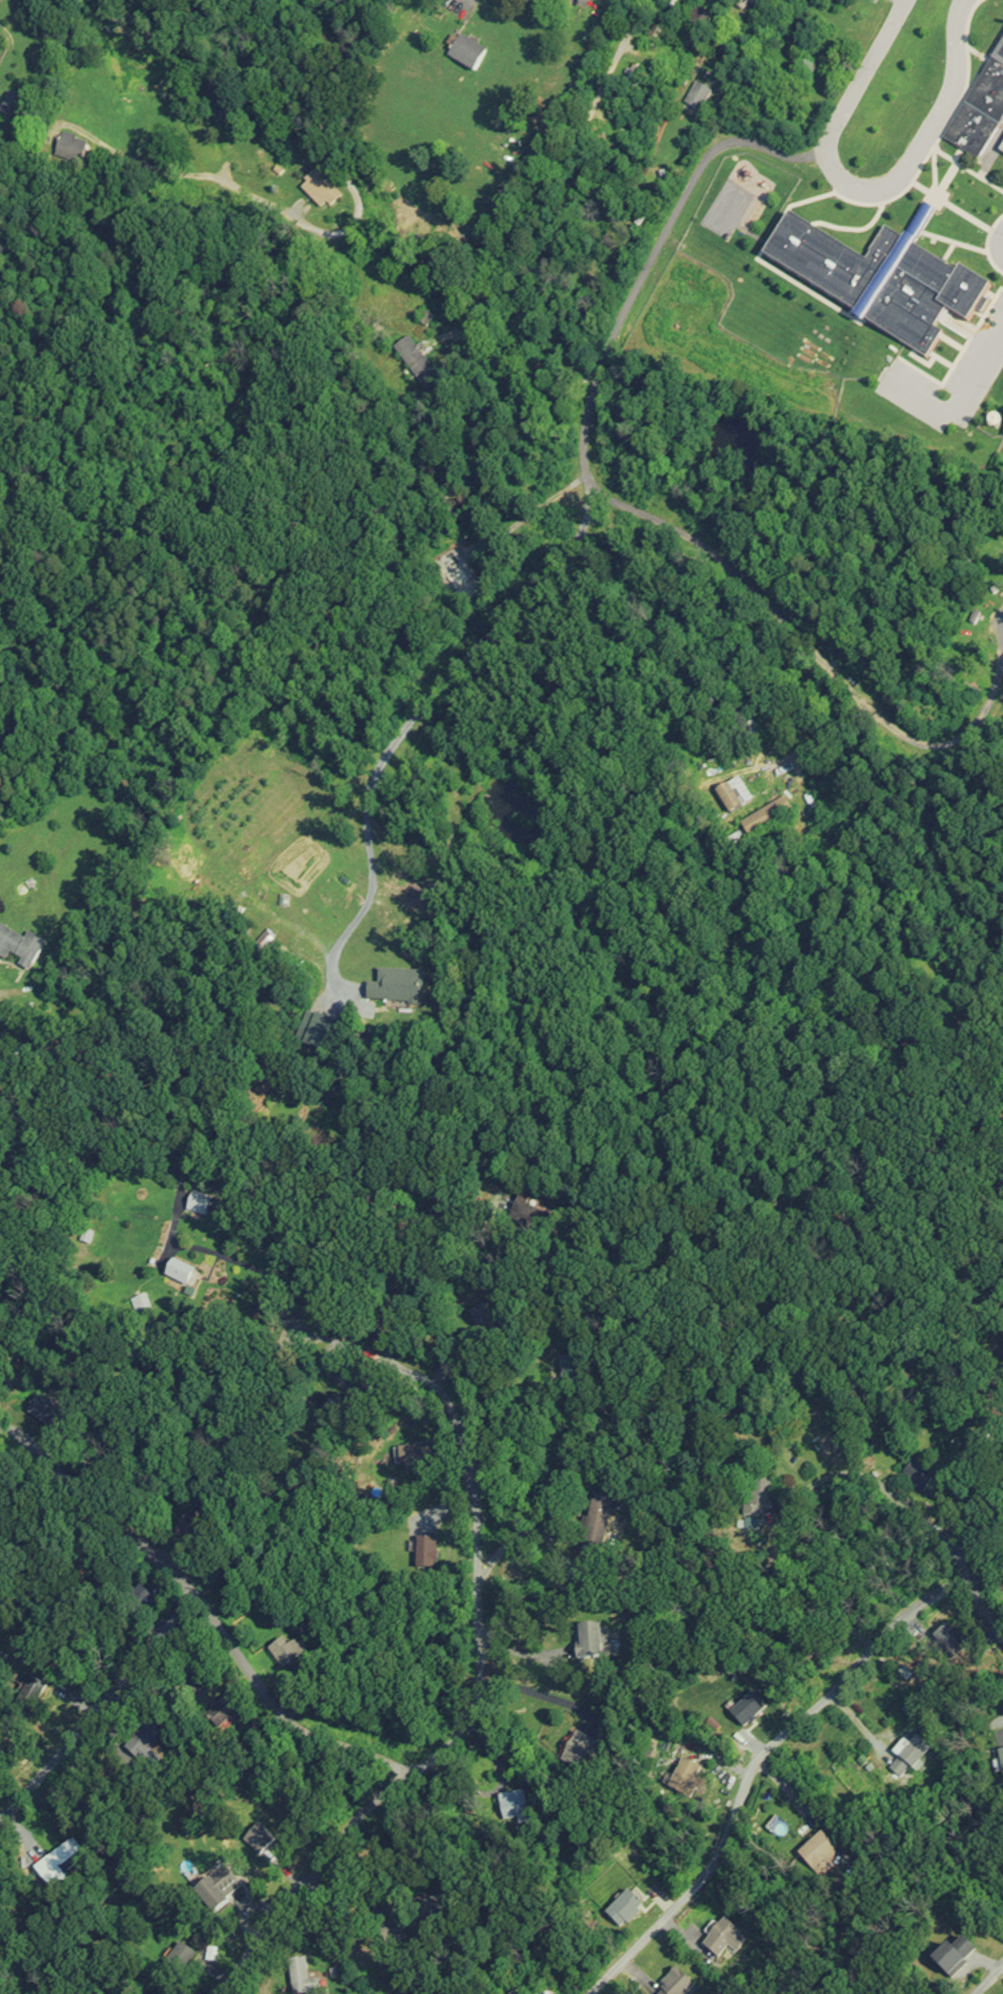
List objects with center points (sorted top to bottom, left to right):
building: (672, 4)
building: (744, 4)
road: (472, 6)
building: (697, 17)
building: (466, 53)
building: (633, 76)
road: (278, 94)
building: (698, 98)
building: (11, 107)
building: (616, 108)
building: (982, 115)
road: (925, 142)
building: (69, 148)
road: (134, 162)
road: (553, 180)
building: (319, 190)
road: (683, 193)
road: (307, 227)
building: (879, 281)
building: (415, 364)
road: (823, 660)
road: (419, 708)
building: (729, 799)
building: (760, 822)
building: (20, 946)
building: (400, 987)
building: (198, 1203)
building: (182, 1274)
building: (483, 1322)
road: (536, 1403)
building: (339, 1410)
building: (415, 1455)
road: (836, 1474)
building: (759, 1494)
building: (598, 1524)
building: (190, 1529)
road: (932, 1529)
building: (426, 1548)
road: (202, 1606)
road: (982, 1612)
building: (588, 1642)
building: (287, 1653)
road: (476, 1673)
road: (532, 1691)
road: (95, 1702)
building: (577, 1751)
building: (909, 1756)
building: (1001, 1763)
road: (749, 1768)
building: (683, 1777)
building: (513, 1806)
building: (259, 1839)
building: (820, 1854)
building: (216, 1887)
building: (625, 1908)
building: (429, 1912)
building: (392, 1933)
building: (721, 1938)
building: (187, 1954)
building: (950, 1961)
road: (989, 1978)
building: (301, 1979)
building: (673, 1984)

